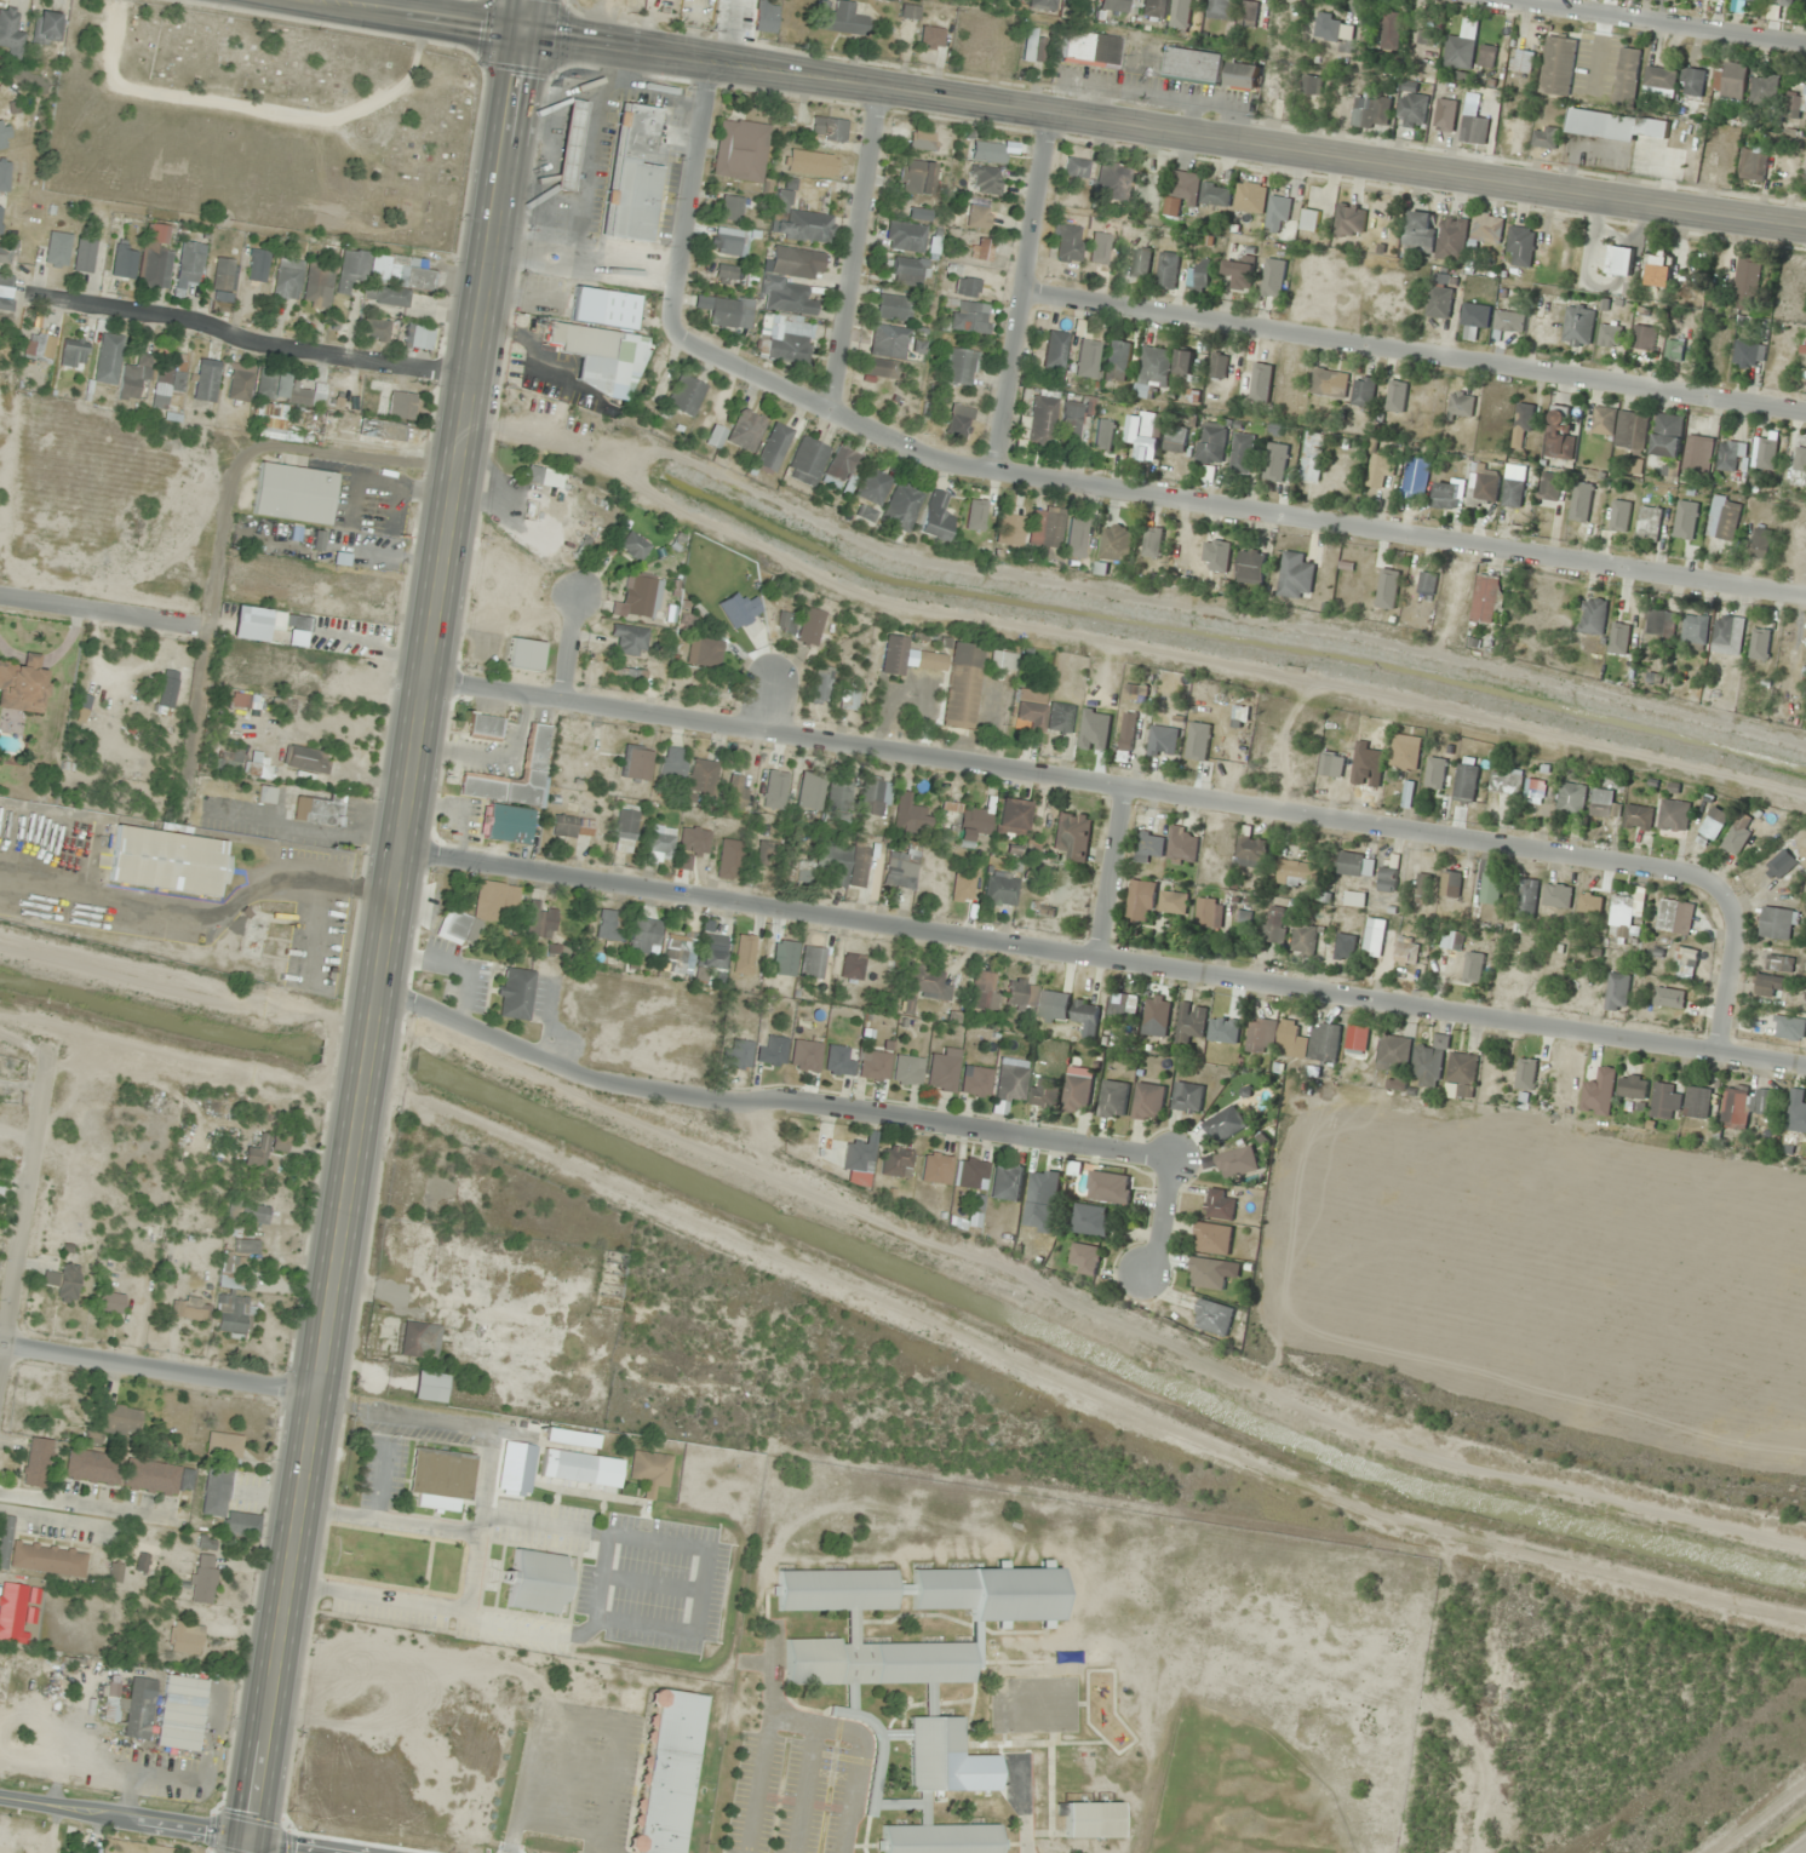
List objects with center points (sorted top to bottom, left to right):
building: (1751, 0)
building: (1787, 0)
building: (1042, 4)
building: (1736, 5)
building: (1118, 6)
building: (1153, 8)
building: (1220, 8)
building: (910, 12)
building: (1246, 12)
building: (1179, 13)
road: (413, 16)
building: (766, 16)
building: (842, 17)
road: (1656, 22)
building: (1326, 25)
building: (45, 28)
building: (1389, 30)
building: (10, 31)
traffic signals: (524, 33)
building: (1423, 35)
building: (1033, 46)
building: (1461, 46)
building: (1089, 50)
building: (1485, 54)
building: (1521, 61)
building: (1556, 64)
building: (1192, 65)
building: (1242, 74)
building: (1626, 76)
building: (1730, 80)
building: (1658, 81)
building: (1692, 81)
building: (1274, 82)
building: (1311, 84)
building: (1764, 88)
building: (1795, 102)
building: (1411, 109)
building: (1369, 111)
park: (260, 122)
building: (1613, 125)
building: (1473, 130)
road: (1164, 131)
building: (829, 132)
building: (1544, 136)
building: (4, 138)
building: (922, 139)
building: (569, 145)
building: (740, 150)
building: (987, 151)
building: (1753, 162)
building: (1076, 167)
building: (4, 174)
building: (632, 174)
building: (915, 177)
building: (986, 180)
building: (1805, 180)
building: (1112, 182)
building: (1180, 191)
building: (1214, 194)
building: (1249, 196)
road: (694, 201)
building: (733, 208)
building: (1277, 212)
building: (918, 214)
building: (977, 217)
building: (0, 218)
building: (799, 219)
building: (1309, 219)
building: (1348, 220)
building: (1486, 225)
building: (1418, 233)
building: (904, 236)
building: (1451, 237)
building: (730, 241)
building: (1067, 242)
building: (1519, 245)
building: (59, 247)
building: (1099, 248)
building: (982, 249)
road: (858, 253)
building: (4, 254)
building: (84, 256)
building: (1618, 259)
building: (124, 260)
building: (1139, 260)
building: (796, 262)
building: (189, 263)
building: (258, 265)
building: (1237, 268)
building: (156, 269)
building: (1166, 269)
building: (1655, 269)
building: (351, 270)
building: (908, 271)
building: (726, 274)
building: (1197, 276)
building: (1272, 276)
building: (222, 280)
building: (396, 280)
building: (287, 281)
building: (1745, 282)
building: (317, 285)
building: (965, 287)
building: (5, 291)
road: (1030, 293)
building: (786, 297)
building: (1438, 300)
building: (893, 308)
building: (726, 311)
building: (968, 317)
building: (1508, 321)
building: (1577, 325)
building: (375, 329)
building: (1607, 334)
building: (1642, 337)
road: (257, 338)
building: (419, 338)
building: (785, 338)
building: (888, 340)
building: (40, 346)
building: (1804, 346)
building: (1673, 349)
building: (1055, 350)
building: (73, 352)
building: (1748, 352)
road: (1417, 356)
building: (600, 357)
building: (108, 358)
building: (1087, 358)
building: (1116, 360)
building: (1183, 362)
building: (1217, 365)
building: (958, 366)
building: (879, 368)
building: (1152, 368)
building: (134, 377)
building: (206, 380)
building: (1260, 381)
building: (1329, 383)
building: (270, 384)
building: (166, 385)
building: (239, 388)
building: (1361, 390)
building: (1395, 395)
building: (306, 396)
building: (686, 396)
building: (392, 401)
building: (1460, 405)
building: (1524, 415)
building: (1603, 419)
building: (957, 420)
building: (1042, 420)
building: (271, 421)
building: (1072, 421)
building: (380, 429)
building: (1630, 429)
building: (746, 430)
building: (1143, 434)
building: (1103, 435)
building: (1559, 435)
building: (1665, 435)
building: (715, 436)
building: (1175, 438)
building: (1210, 442)
building: (774, 447)
building: (1240, 452)
building: (1696, 454)
building: (1765, 454)
building: (1730, 455)
building: (1311, 457)
building: (807, 461)
building: (1274, 461)
building: (1799, 461)
building: (841, 469)
building: (1378, 470)
building: (543, 477)
building: (1414, 477)
building: (1484, 484)
building: (1549, 486)
building: (872, 487)
building: (1445, 493)
building: (1512, 493)
building: (294, 494)
building: (1579, 501)
building: (901, 506)
road: (1227, 506)
building: (865, 514)
building: (975, 515)
building: (1618, 515)
building: (935, 518)
building: (1722, 518)
building: (1685, 520)
building: (1647, 523)
building: (1010, 528)
building: (1047, 529)
building: (1076, 538)
building: (1152, 541)
building: (1759, 541)
building: (1114, 543)
building: (632, 546)
building: (1219, 556)
building: (1249, 566)
building: (1294, 575)
building: (1426, 580)
building: (1387, 587)
building: (641, 597)
building: (1484, 598)
building: (738, 609)
road: (98, 613)
building: (1592, 615)
building: (289, 621)
building: (1659, 623)
building: (801, 625)
building: (1693, 632)
building: (1727, 633)
building: (1618, 637)
building: (630, 639)
building: (1759, 643)
road: (569, 649)
building: (703, 653)
building: (524, 654)
building: (893, 655)
building: (930, 660)
building: (1002, 660)
building: (626, 672)
building: (23, 684)
building: (172, 687)
building: (961, 687)
building: (820, 688)
building: (1134, 690)
building: (848, 699)
building: (246, 701)
road: (763, 701)
building: (283, 706)
building: (1027, 710)
building: (1059, 718)
building: (483, 728)
building: (1126, 730)
building: (1162, 740)
building: (1197, 740)
building: (534, 748)
building: (1405, 751)
building: (306, 759)
building: (636, 762)
building: (1294, 762)
building: (228, 763)
building: (672, 763)
building: (1329, 764)
building: (258, 767)
building: (1434, 773)
building: (701, 776)
road: (1073, 779)
building: (1468, 781)
building: (1504, 781)
building: (1536, 787)
building: (774, 790)
building: (735, 791)
building: (808, 791)
building: (1406, 793)
building: (265, 794)
building: (873, 797)
building: (1570, 798)
building: (837, 802)
building: (1604, 803)
building: (317, 811)
building: (1673, 814)
building: (908, 816)
building: (1011, 816)
building: (1636, 816)
building: (964, 821)
building: (505, 824)
building: (1712, 824)
building: (571, 827)
building: (624, 830)
building: (1072, 834)
building: (1736, 834)
building: (660, 842)
building: (1180, 844)
building: (1147, 845)
building: (1249, 850)
building: (767, 851)
building: (730, 860)
building: (167, 861)
building: (1781, 862)
building: (842, 864)
building: (1354, 864)
building: (899, 871)
road: (1113, 871)
building: (1292, 872)
building: (1386, 878)
building: (1450, 883)
building: (1421, 888)
building: (1490, 888)
building: (999, 889)
building: (1556, 895)
building: (1353, 897)
building: (1525, 897)
building: (1140, 900)
building: (1170, 901)
building: (478, 912)
building: (1208, 912)
building: (1242, 916)
building: (1673, 916)
building: (1619, 918)
building: (541, 920)
building: (1776, 922)
building: (1273, 923)
road: (385, 925)
building: (608, 925)
building: (644, 936)
building: (1372, 936)
building: (1302, 939)
building: (1451, 939)
building: (1343, 946)
building: (1405, 952)
building: (675, 954)
building: (710, 954)
building: (743, 954)
road: (1102, 956)
building: (1685, 956)
building: (813, 963)
building: (1779, 963)
building: (852, 966)
building: (1472, 966)
road: (1728, 971)
building: (1503, 980)
building: (925, 982)
building: (1767, 983)
building: (982, 989)
building: (1616, 991)
building: (514, 994)
building: (1020, 994)
building: (1659, 998)
building: (1053, 1004)
building: (1117, 1005)
building: (1084, 1011)
building: (1154, 1015)
building: (1188, 1021)
building: (1223, 1028)
building: (1260, 1034)
building: (1355, 1039)
building: (1308, 1040)
building: (770, 1050)
building: (1393, 1052)
building: (738, 1054)
building: (804, 1055)
building: (838, 1060)
building: (1428, 1062)
building: (873, 1066)
building: (907, 1069)
building: (942, 1069)
building: (1525, 1072)
building: (1460, 1075)
building: (1009, 1080)
building: (974, 1082)
building: (1632, 1085)
building: (1043, 1091)
building: (1596, 1091)
building: (1076, 1092)
building: (1186, 1096)
building: (1112, 1098)
building: (1664, 1100)
building: (1147, 1101)
building: (1696, 1101)
building: (1760, 1101)
road: (826, 1106)
building: (1733, 1107)
building: (1795, 1114)
building: (1222, 1124)
building: (263, 1149)
building: (860, 1154)
building: (895, 1161)
building: (1235, 1161)
building: (935, 1168)
building: (971, 1174)
building: (1004, 1182)
building: (1107, 1186)
building: (1040, 1198)
road: (25, 1200)
building: (1219, 1203)
building: (247, 1212)
building: (1090, 1220)
building: (1211, 1238)
building: (1083, 1258)
building: (237, 1263)
building: (1205, 1273)
building: (614, 1275)
building: (63, 1283)
building: (109, 1304)
building: (189, 1308)
building: (231, 1315)
building: (1212, 1316)
building: (420, 1341)
road: (1, 1359)
road: (156, 1371)
building: (429, 1387)
building: (117, 1419)
building: (223, 1447)
building: (568, 1457)
building: (36, 1462)
building: (92, 1468)
building: (649, 1468)
building: (156, 1478)
building: (440, 1479)
road: (377, 1480)
building: (214, 1491)
road: (477, 1518)
road: (385, 1520)
building: (39, 1555)
road: (706, 1566)
building: (114, 1573)
building: (202, 1579)
road: (653, 1582)
building: (535, 1583)
building: (12, 1612)
road: (529, 1631)
building: (184, 1637)
building: (912, 1640)
building: (132, 1709)
building: (180, 1714)
building: (852, 1716)
building: (667, 1772)
building: (1091, 1820)
road: (124, 1823)
building: (941, 1838)
traffic signals: (248, 1849)
road: (260, 1851)
building: (76, 1852)

